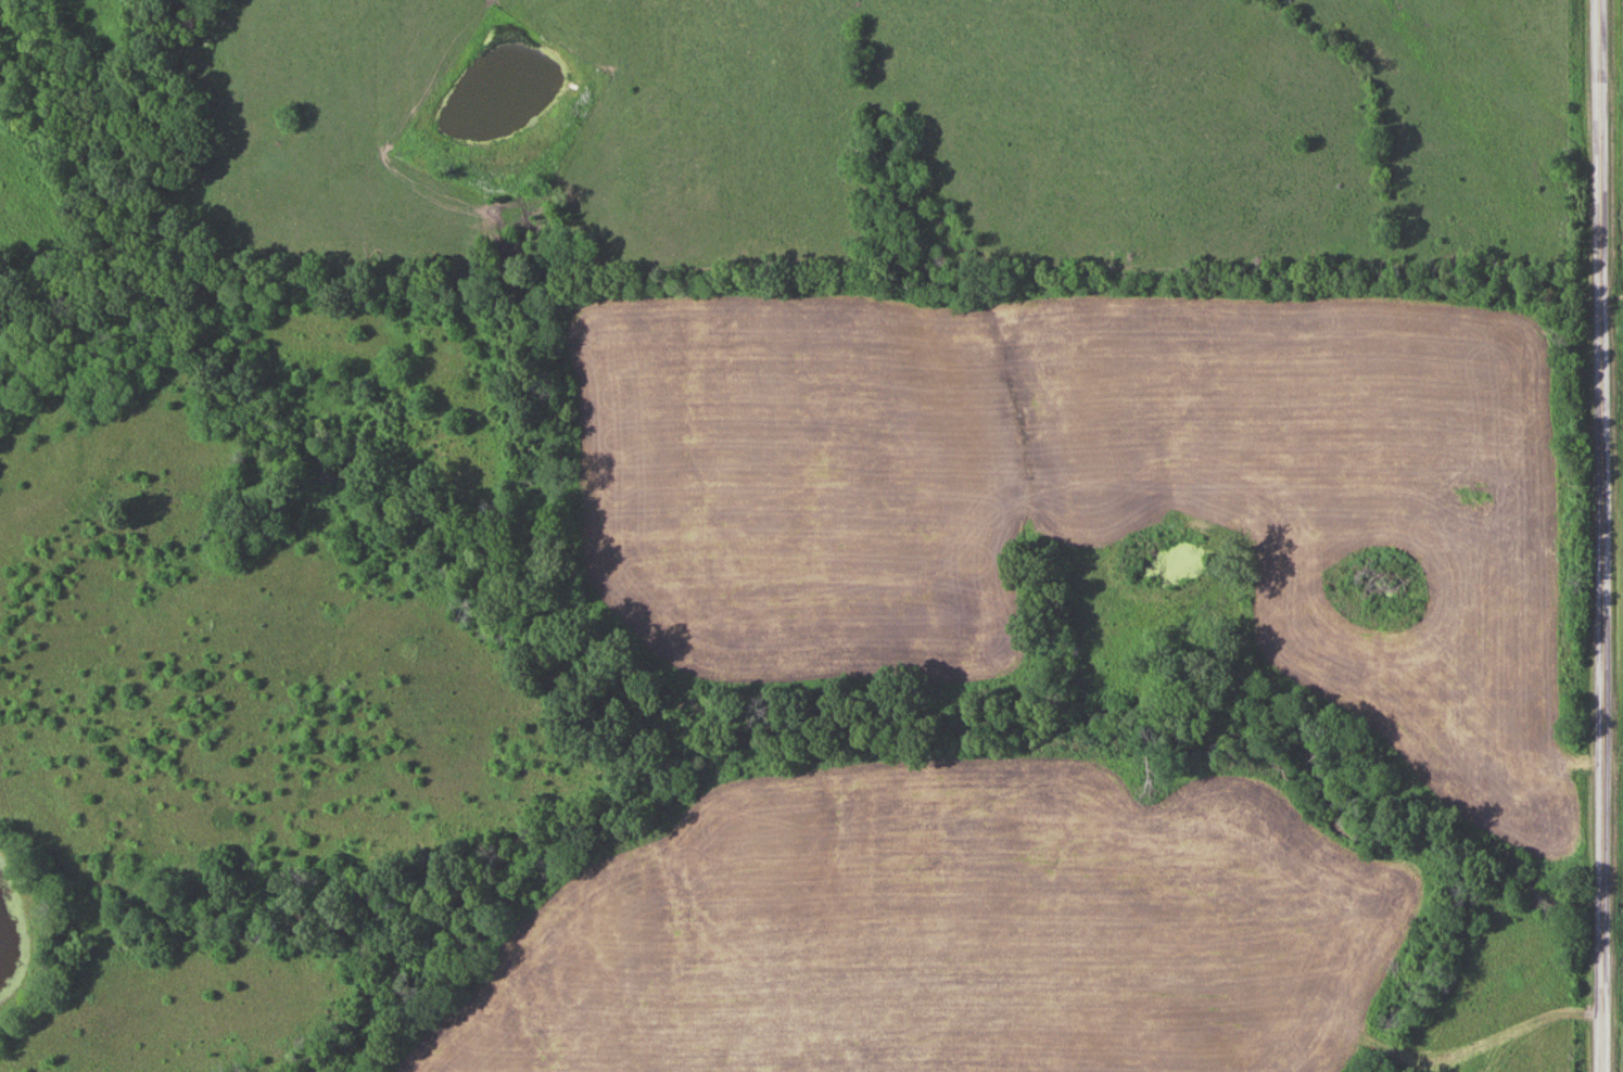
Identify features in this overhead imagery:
road: (1605, 536)

